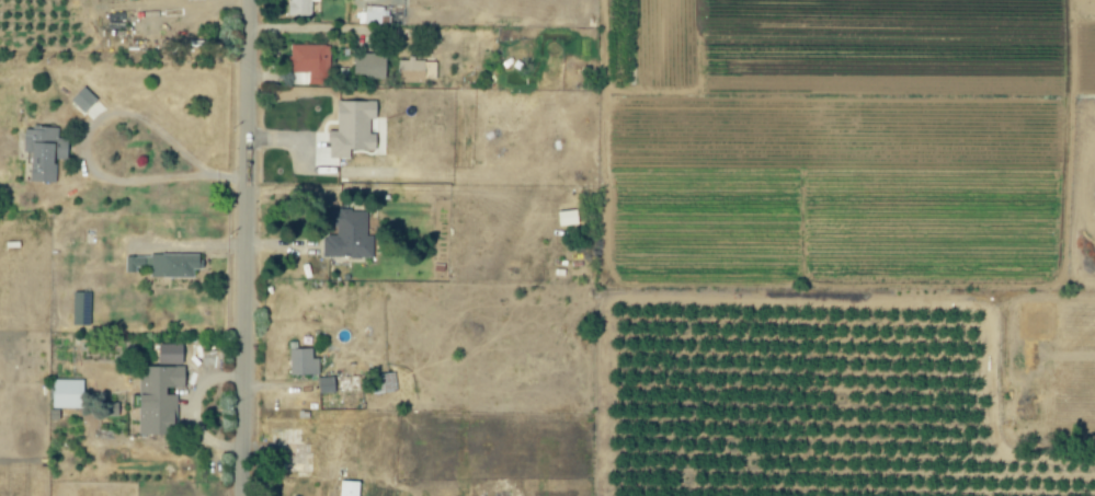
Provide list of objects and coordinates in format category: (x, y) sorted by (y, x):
building: (301, 8)
road: (344, 28)
road: (273, 59)
building: (311, 62)
building: (368, 66)
building: (410, 70)
building: (82, 100)
road: (95, 127)
building: (352, 128)
building: (44, 153)
building: (567, 218)
building: (347, 235)
road: (244, 247)
building: (163, 265)
building: (81, 309)
building: (303, 362)
building: (327, 385)
building: (67, 394)
building: (158, 400)
building: (109, 410)
building: (298, 452)
building: (349, 488)

